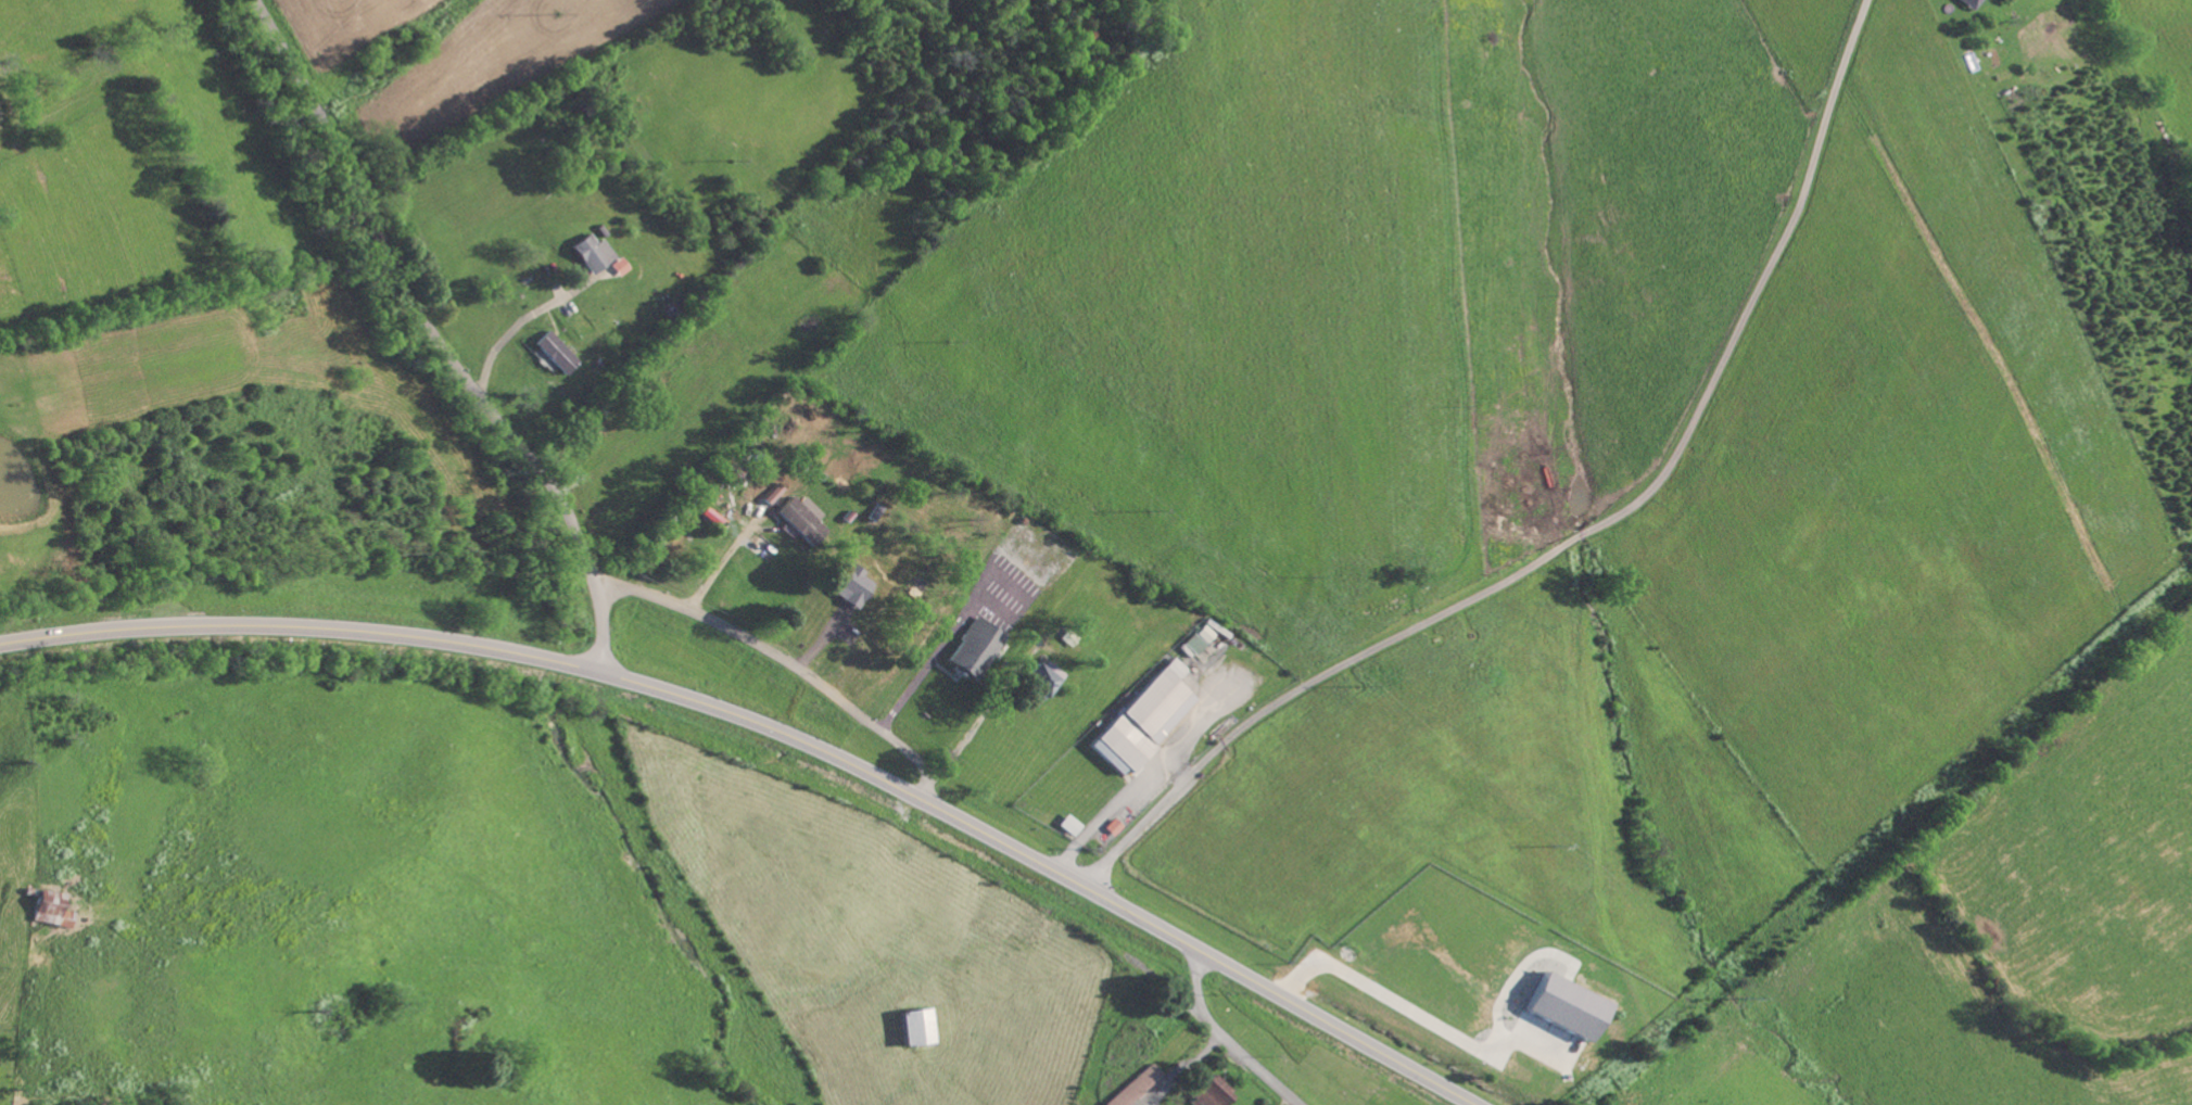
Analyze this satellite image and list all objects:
building: (1967, 2)
building: (590, 252)
building: (618, 266)
road: (515, 326)
road: (434, 339)
building: (555, 352)
building: (710, 516)
building: (801, 521)
road: (1585, 534)
building: (1191, 646)
building: (972, 648)
road: (926, 666)
road: (778, 672)
building: (1041, 678)
building: (1144, 719)
road: (778, 732)
building: (1068, 825)
building: (1112, 827)
building: (47, 909)
building: (1563, 1005)
building: (913, 1025)
road: (1225, 1040)
building: (1132, 1085)
building: (1208, 1091)

